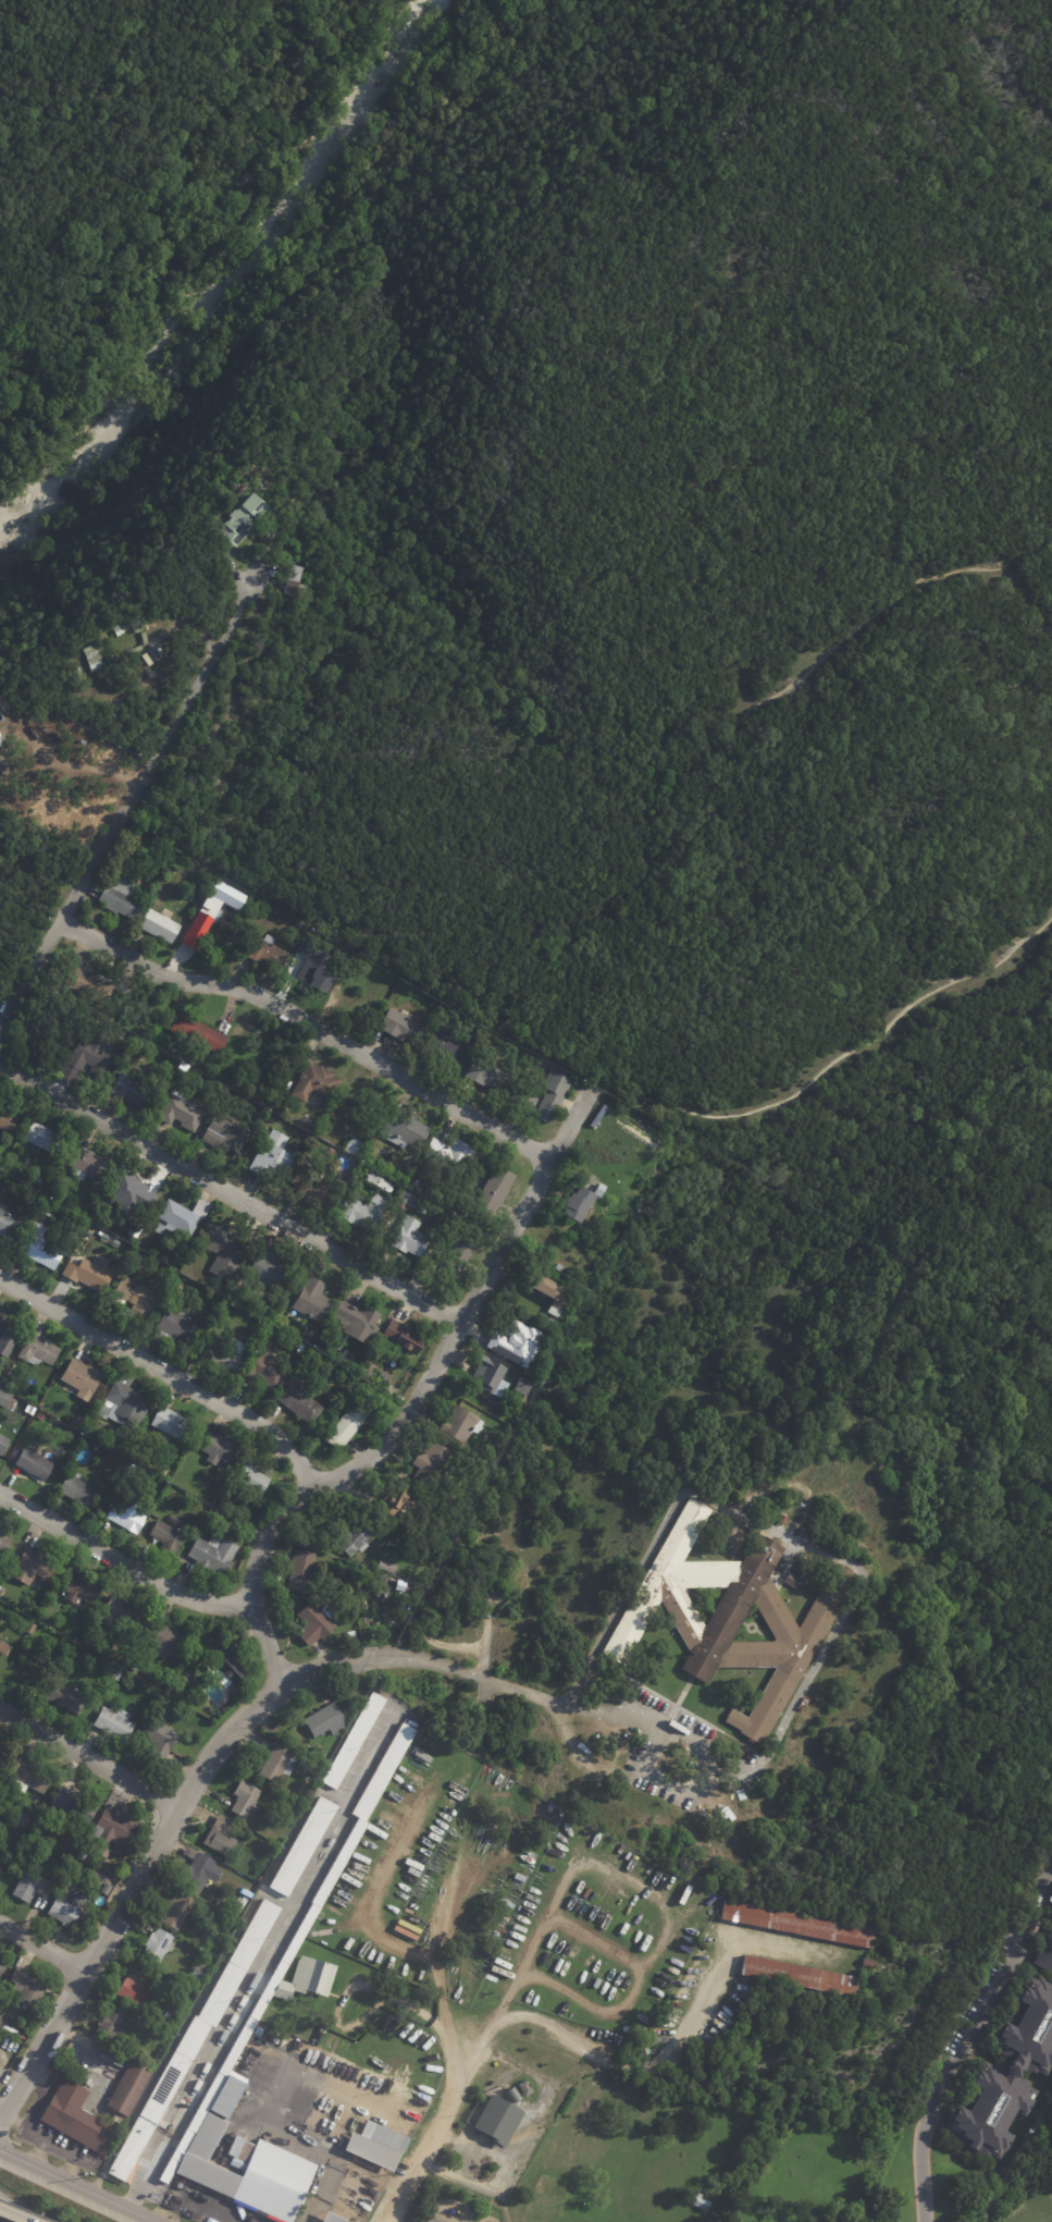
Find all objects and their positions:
road: (279, 289)
building: (243, 521)
road: (18, 553)
building: (295, 585)
road: (888, 607)
building: (117, 629)
building: (125, 649)
building: (91, 658)
building: (52, 736)
building: (1, 739)
building: (0, 749)
road: (125, 798)
building: (162, 879)
road: (30, 891)
building: (122, 898)
building: (209, 911)
building: (161, 926)
building: (299, 926)
building: (267, 952)
building: (356, 973)
building: (314, 974)
building: (89, 984)
road: (308, 1023)
building: (405, 1029)
building: (199, 1034)
building: (52, 1038)
building: (448, 1046)
road: (839, 1056)
building: (90, 1059)
building: (490, 1075)
building: (318, 1083)
building: (133, 1092)
building: (548, 1096)
building: (183, 1114)
building: (9, 1119)
building: (405, 1132)
building: (226, 1135)
building: (45, 1139)
building: (357, 1147)
building: (453, 1156)
building: (274, 1157)
building: (90, 1166)
building: (409, 1170)
building: (42, 1182)
building: (380, 1183)
building: (627, 1186)
building: (423, 1187)
building: (314, 1190)
building: (597, 1191)
building: (497, 1192)
road: (228, 1193)
building: (410, 1202)
building: (574, 1205)
building: (136, 1207)
building: (50, 1208)
building: (364, 1212)
building: (185, 1218)
building: (9, 1226)
building: (409, 1238)
building: (42, 1249)
building: (224, 1255)
building: (461, 1255)
building: (268, 1269)
building: (89, 1274)
building: (547, 1292)
building: (314, 1298)
building: (138, 1299)
building: (360, 1323)
building: (176, 1328)
building: (7, 1336)
building: (404, 1338)
building: (307, 1339)
building: (510, 1341)
building: (39, 1349)
building: (301, 1352)
building: (227, 1353)
road: (163, 1370)
building: (264, 1370)
building: (371, 1374)
building: (487, 1376)
building: (386, 1377)
building: (83, 1378)
building: (4, 1380)
building: (520, 1387)
building: (4, 1396)
building: (398, 1399)
building: (126, 1403)
building: (300, 1403)
road: (411, 1404)
building: (48, 1407)
building: (32, 1409)
building: (40, 1416)
building: (79, 1420)
building: (351, 1422)
building: (462, 1422)
building: (172, 1424)
building: (3, 1443)
building: (222, 1450)
building: (35, 1462)
building: (433, 1464)
building: (251, 1476)
building: (178, 1480)
building: (78, 1487)
building: (397, 1500)
building: (222, 1505)
building: (126, 1512)
road: (765, 1523)
building: (250, 1531)
building: (356, 1534)
building: (727, 1534)
building: (166, 1535)
building: (4, 1543)
building: (414, 1550)
building: (212, 1555)
road: (121, 1560)
building: (34, 1567)
building: (386, 1568)
building: (304, 1571)
building: (793, 1582)
building: (82, 1588)
building: (121, 1617)
building: (726, 1619)
building: (318, 1622)
building: (48, 1624)
building: (30, 1628)
building: (166, 1641)
building: (4, 1647)
building: (120, 1664)
building: (134, 1667)
building: (228, 1670)
building: (110, 1671)
building: (189, 1673)
building: (117, 1674)
building: (65, 1697)
building: (164, 1702)
road: (619, 1715)
building: (319, 1719)
building: (116, 1723)
building: (162, 1740)
building: (354, 1741)
building: (2, 1752)
road: (86, 1757)
building: (272, 1761)
building: (311, 1769)
building: (28, 1777)
road: (665, 1779)
building: (238, 1797)
road: (177, 1799)
building: (74, 1805)
building: (25, 1821)
building: (114, 1831)
building: (222, 1836)
building: (304, 1845)
building: (269, 1846)
building: (83, 1856)
building: (1, 1869)
building: (202, 1870)
building: (113, 1871)
building: (57, 1877)
building: (75, 1877)
building: (34, 1887)
building: (108, 1890)
building: (222, 1905)
building: (70, 1910)
building: (180, 1910)
building: (88, 1925)
building: (796, 1925)
building: (301, 1929)
road: (40, 1947)
building: (159, 1947)
building: (197, 1955)
building: (1047, 1955)
building: (0, 1960)
road: (271, 1962)
building: (2, 1967)
building: (200, 1971)
building: (318, 1977)
building: (797, 1978)
building: (135, 1987)
building: (28, 1988)
building: (285, 1991)
building: (159, 1994)
road: (509, 2016)
building: (171, 2018)
building: (113, 2023)
building: (1, 2024)
building: (140, 2024)
building: (194, 2039)
road: (970, 2046)
building: (1007, 2076)
building: (380, 2082)
building: (124, 2087)
building: (527, 2088)
building: (515, 2095)
building: (231, 2098)
road: (448, 2101)
road: (0, 2113)
building: (73, 2116)
building: (502, 2121)
road: (305, 2141)
building: (379, 2146)
building: (252, 2173)
road: (78, 2187)
building: (697, 2203)
road: (15, 2212)
road: (13, 2215)
building: (335, 2219)
building: (433, 2220)
building: (731, 2221)

